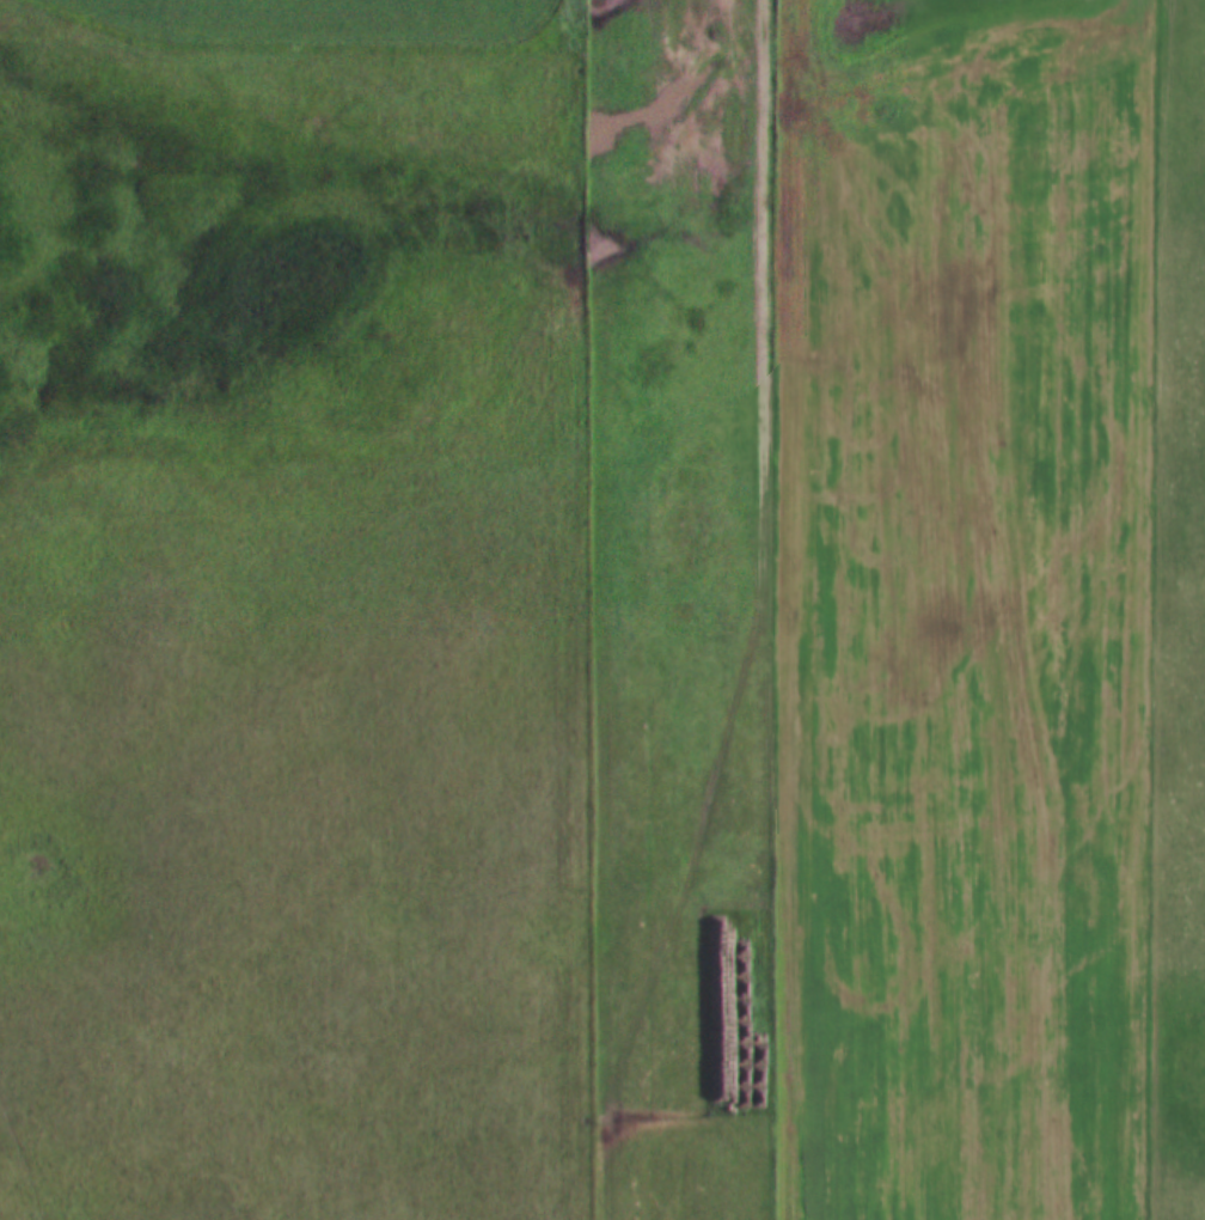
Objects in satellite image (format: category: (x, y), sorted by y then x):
road: (761, 610)

